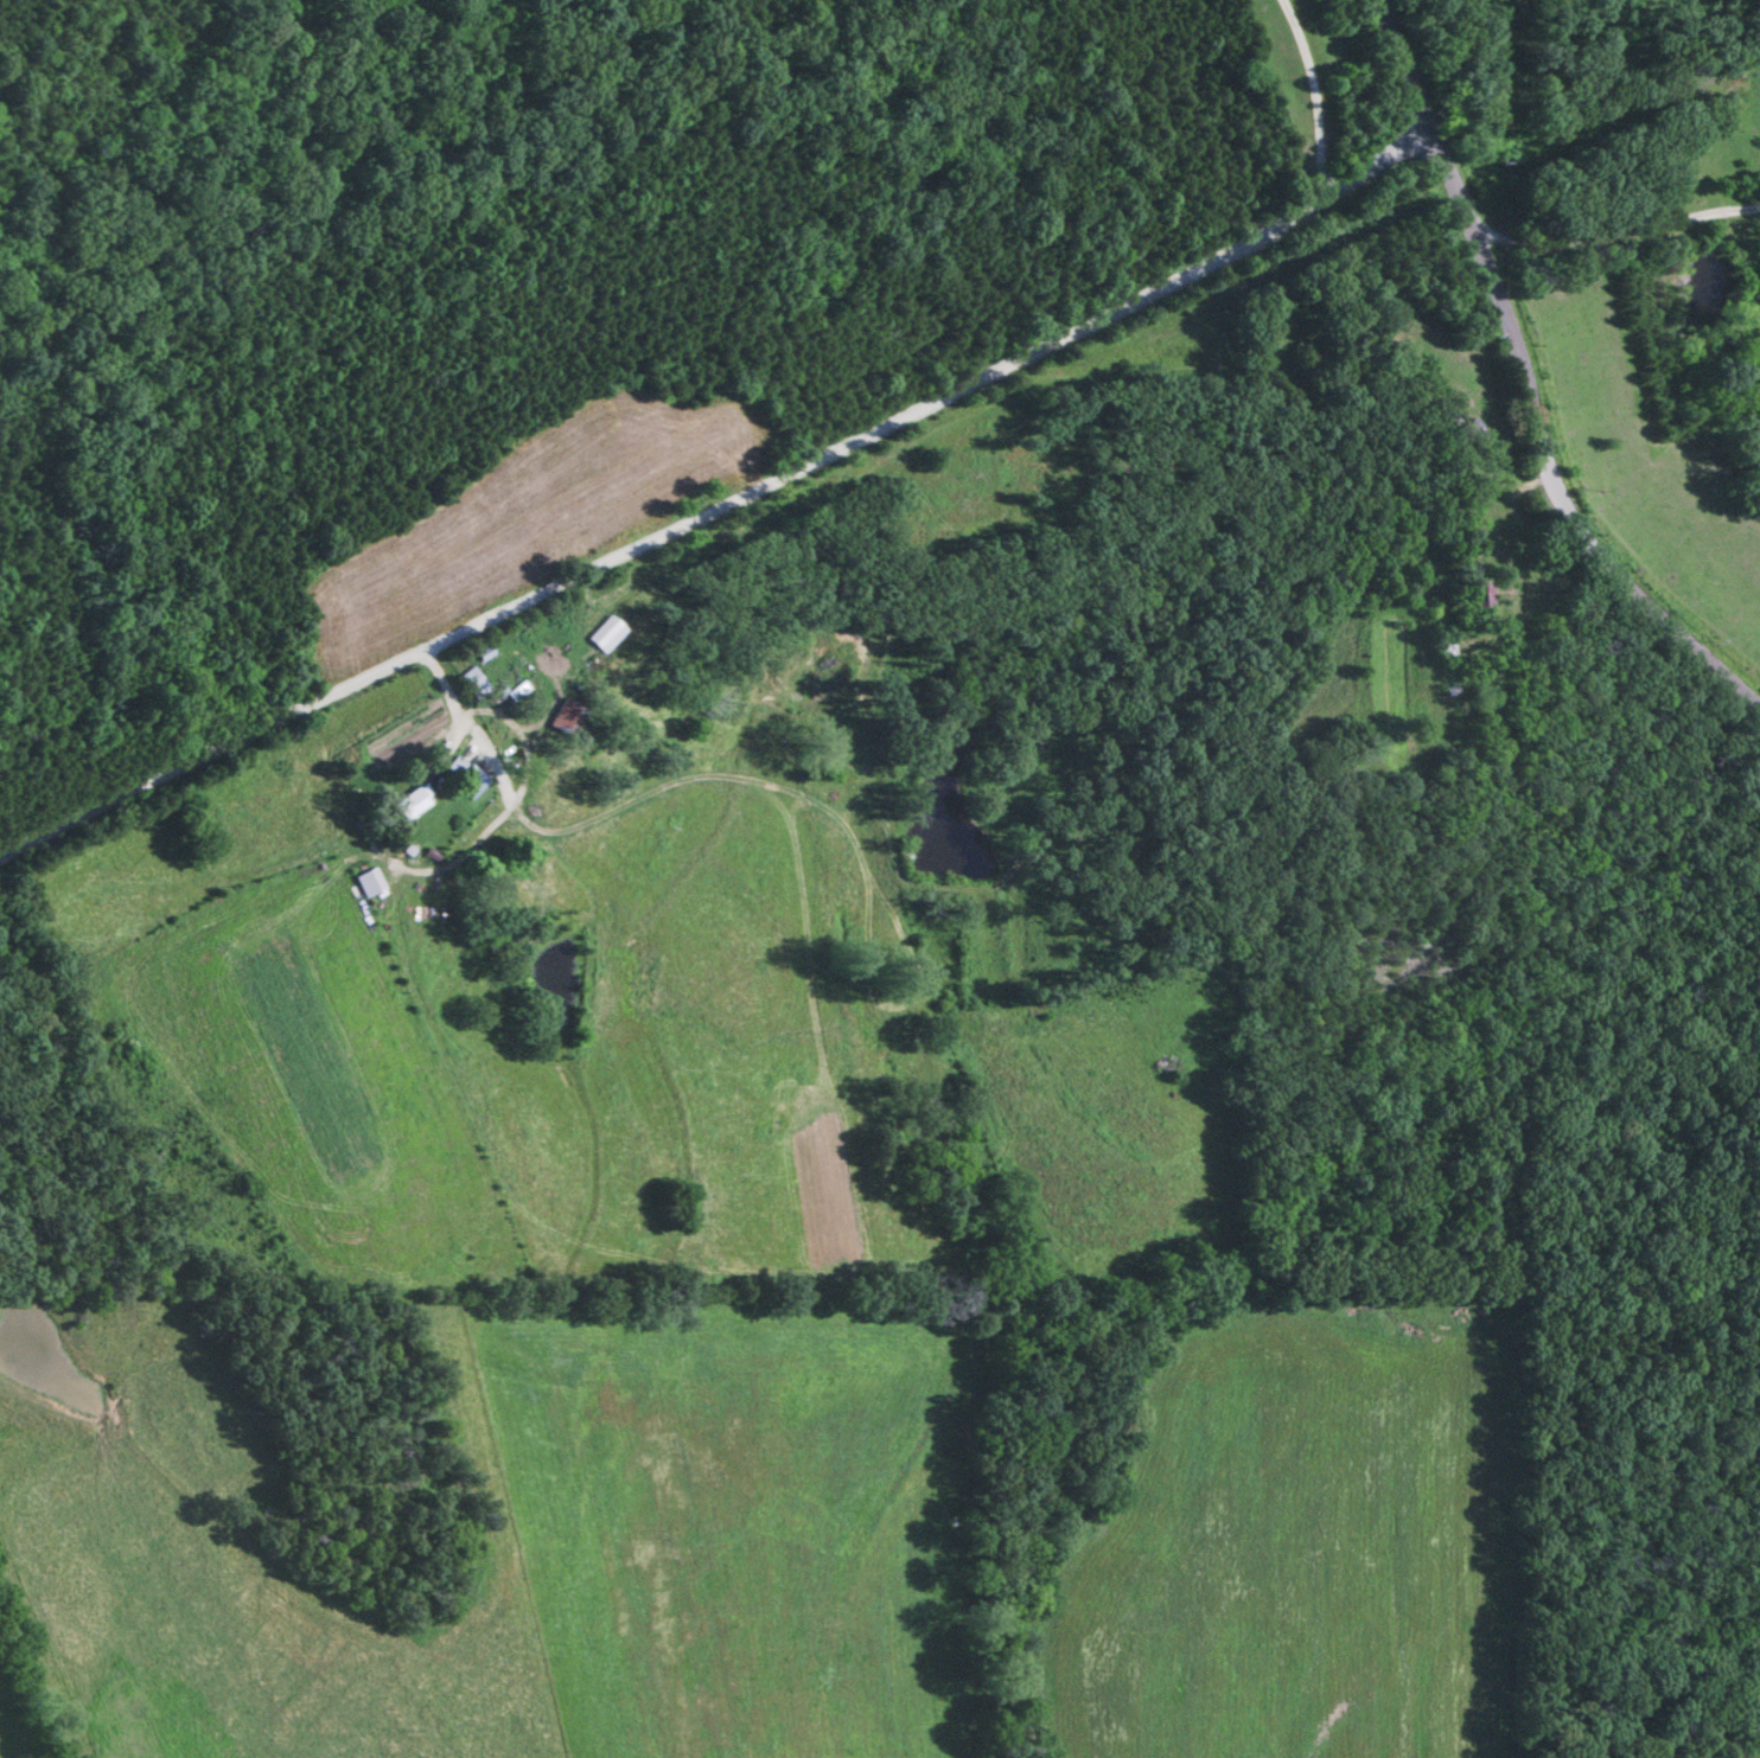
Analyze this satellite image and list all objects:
road: (1357, 75)
road: (1315, 95)
road: (1611, 237)
road: (862, 357)
building: (1468, 433)
road: (1549, 442)
road: (713, 493)
building: (1479, 595)
building: (604, 634)
building: (1442, 650)
building: (471, 685)
building: (563, 716)
building: (461, 779)
building: (409, 805)

